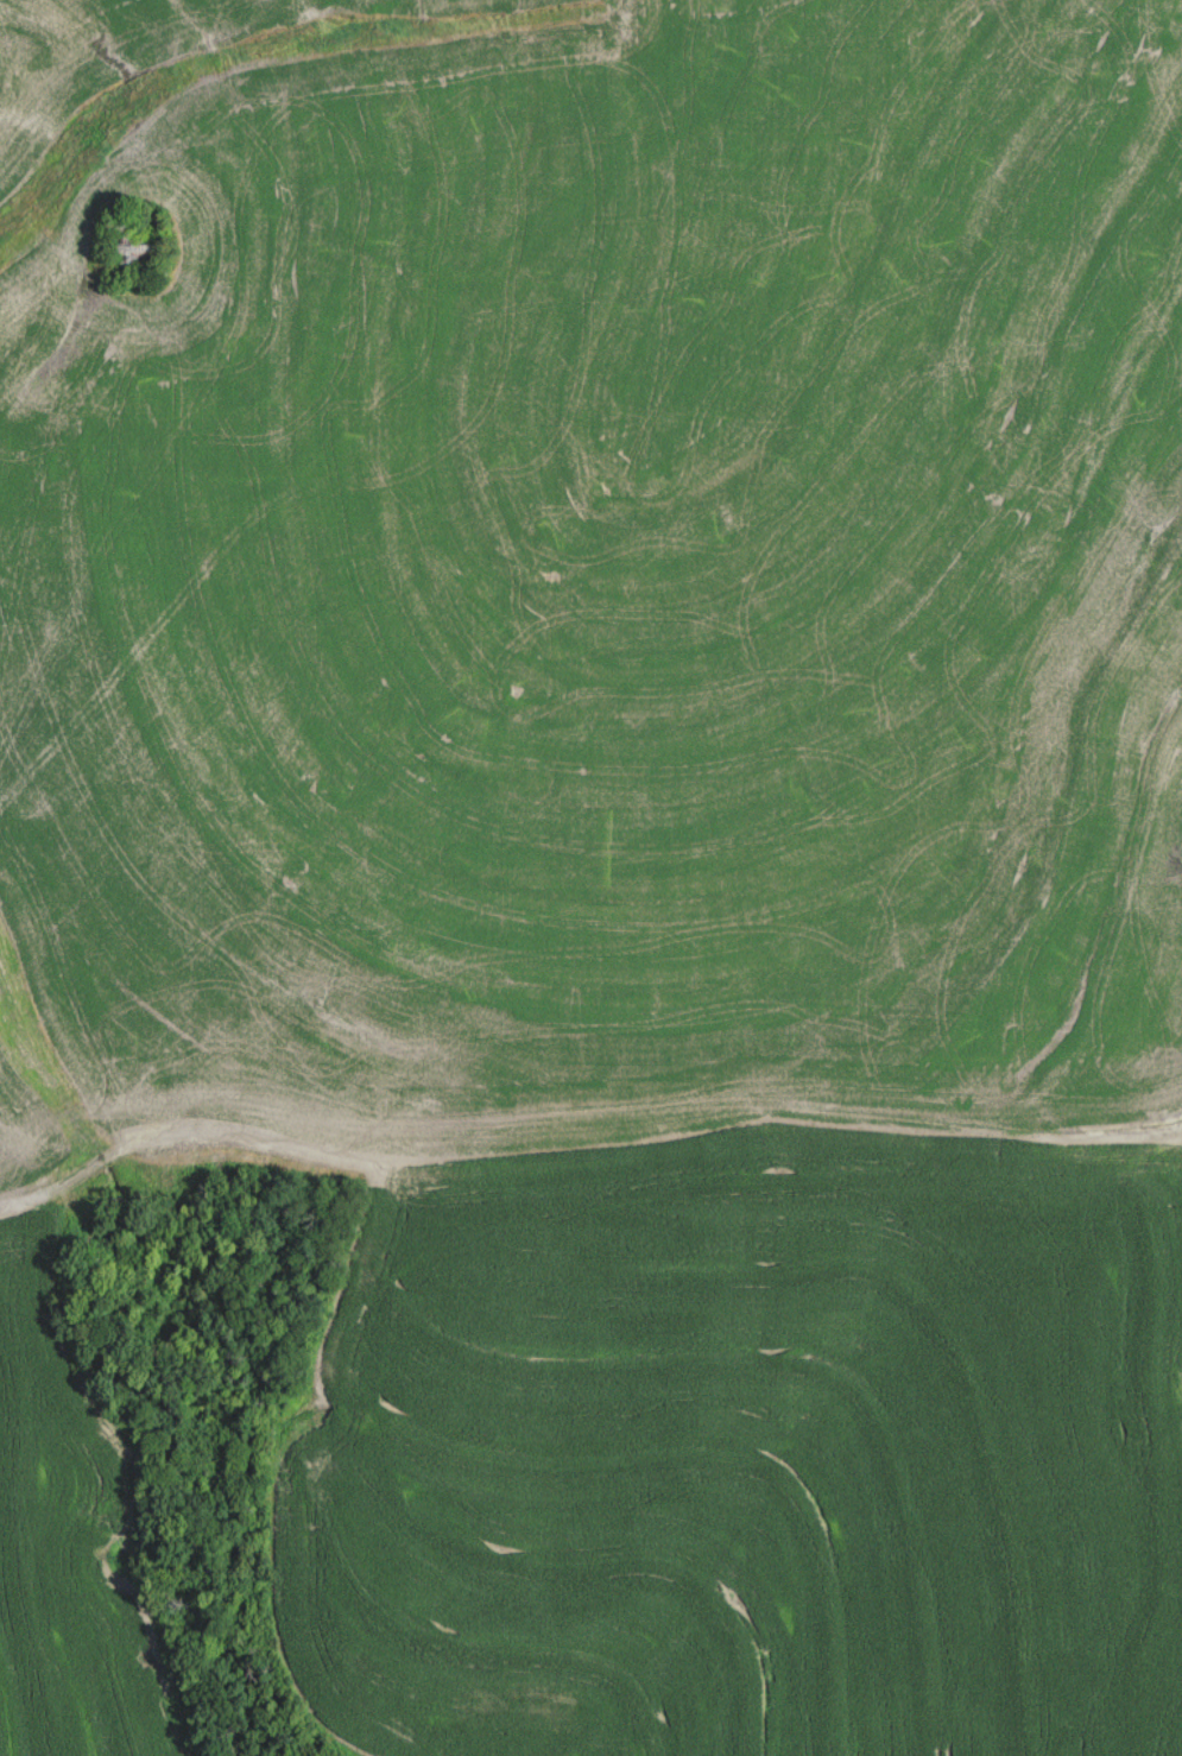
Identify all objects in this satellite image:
building: (143, 252)

